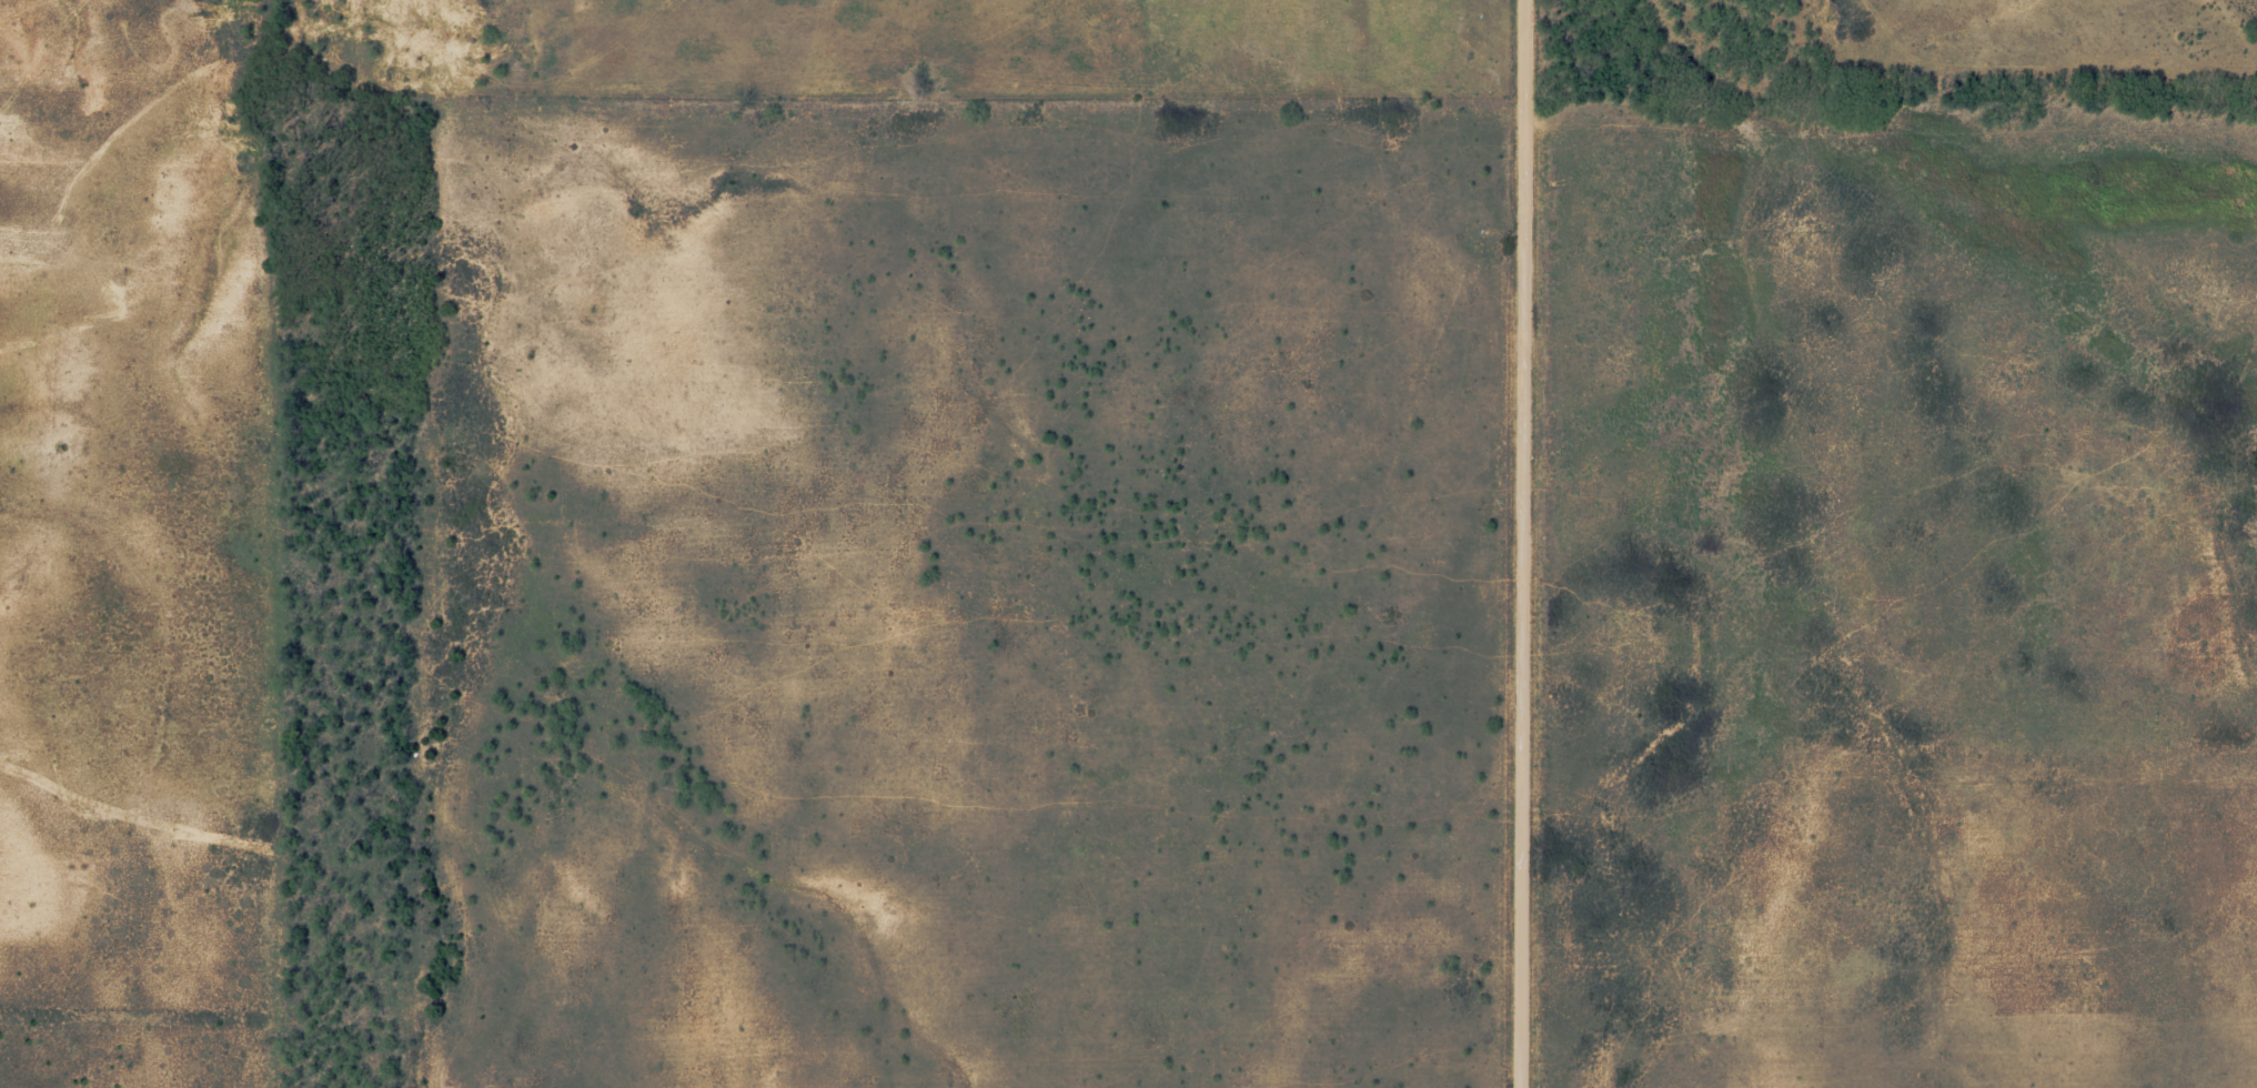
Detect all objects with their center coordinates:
road: (1513, 543)

